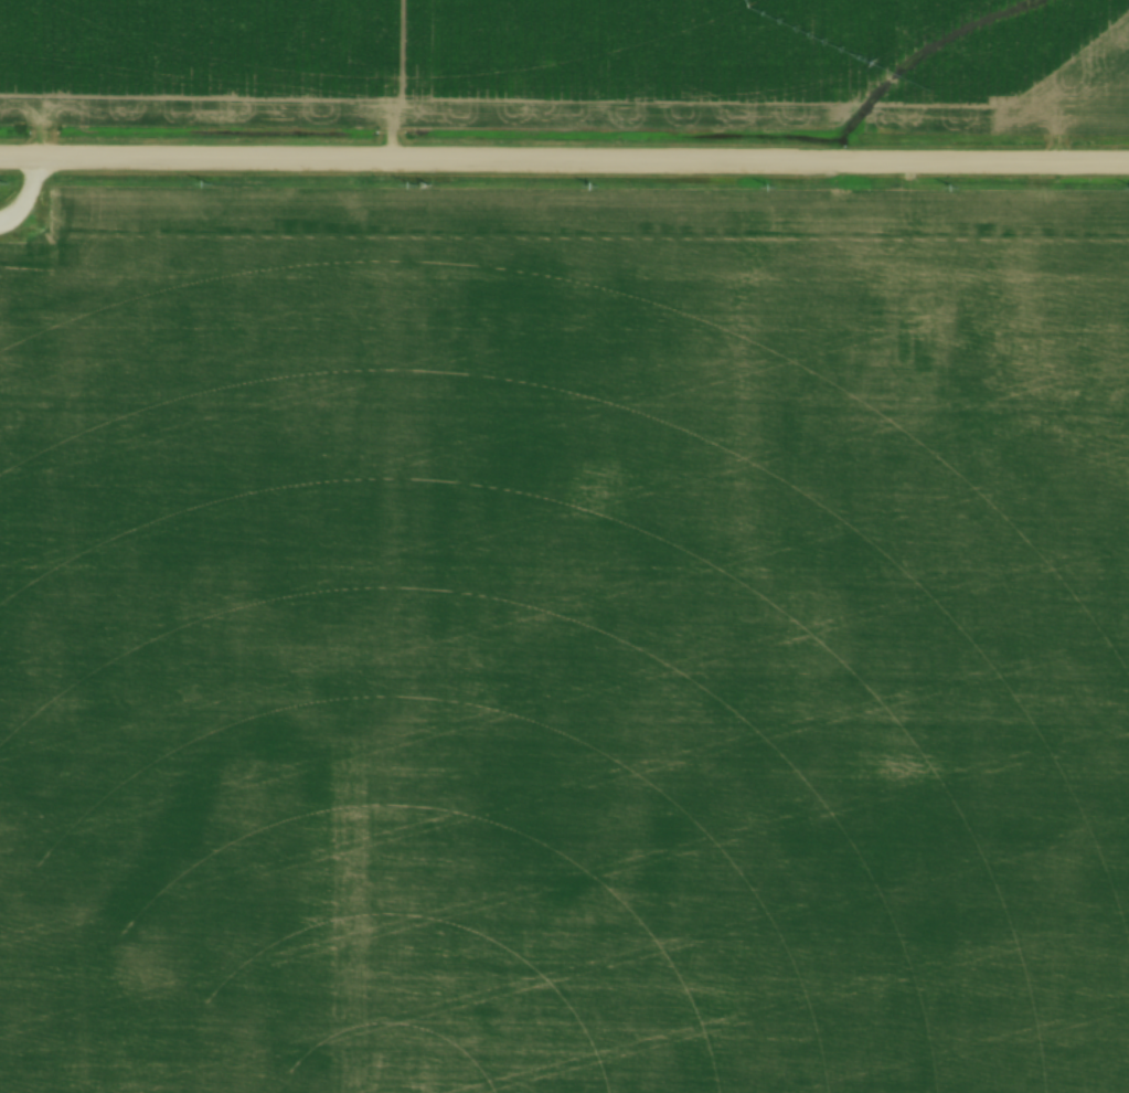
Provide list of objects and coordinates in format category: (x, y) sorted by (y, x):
road: (564, 160)

